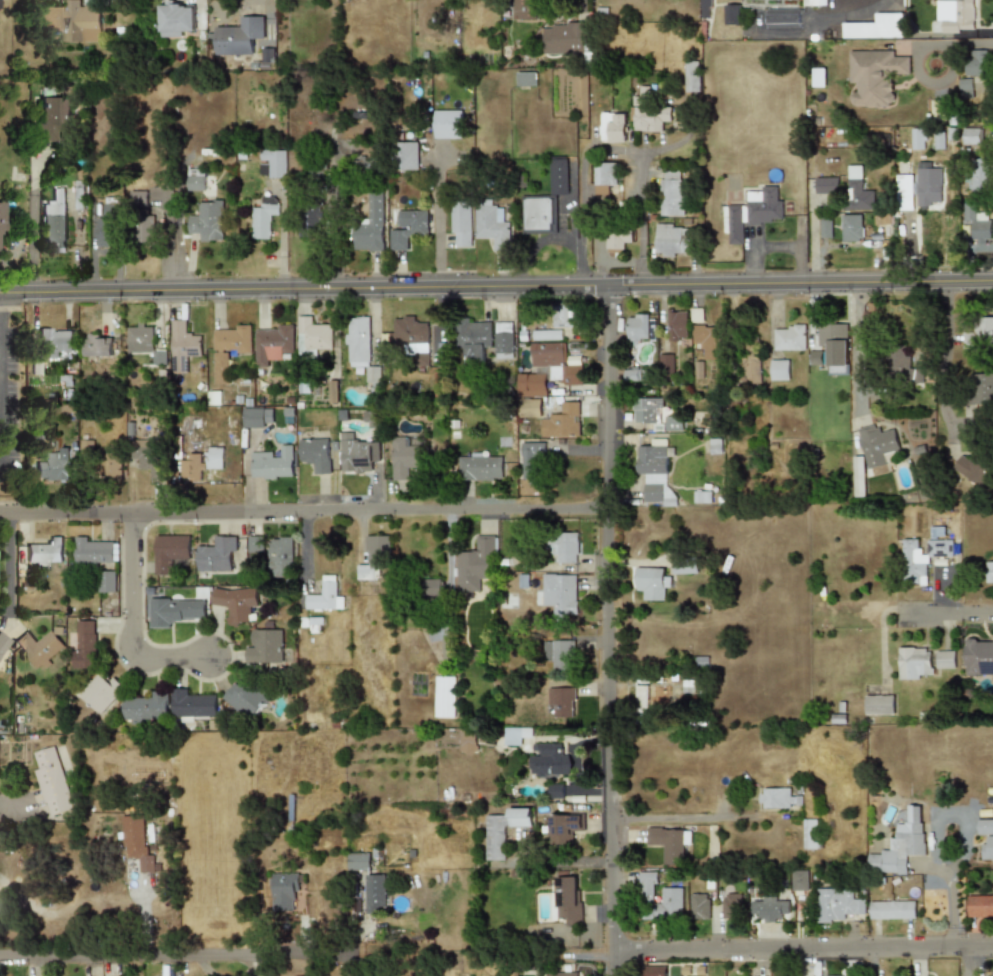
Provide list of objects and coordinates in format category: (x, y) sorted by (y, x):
road: (266, 1)
road: (581, 2)
building: (814, 3)
road: (864, 5)
building: (525, 9)
building: (705, 9)
building: (732, 14)
building: (956, 15)
building: (781, 19)
building: (175, 20)
building: (70, 23)
building: (872, 27)
building: (238, 36)
building: (565, 37)
road: (950, 43)
building: (977, 62)
building: (691, 75)
building: (873, 76)
building: (817, 77)
building: (526, 79)
building: (964, 88)
building: (938, 110)
building: (647, 113)
building: (50, 115)
building: (448, 124)
building: (613, 127)
building: (971, 136)
building: (918, 139)
building: (408, 155)
building: (274, 165)
building: (366, 165)
building: (980, 173)
building: (558, 176)
building: (603, 176)
building: (196, 179)
building: (826, 185)
building: (857, 190)
building: (917, 190)
road: (581, 194)
building: (670, 194)
building: (78, 195)
road: (640, 196)
building: (138, 199)
building: (754, 211)
building: (538, 215)
building: (264, 216)
road: (438, 219)
building: (208, 220)
building: (317, 220)
building: (977, 222)
building: (462, 223)
road: (336, 224)
building: (371, 224)
building: (491, 224)
road: (34, 225)
building: (0, 226)
building: (106, 226)
building: (141, 227)
building: (851, 227)
building: (53, 228)
building: (407, 228)
building: (616, 237)
road: (283, 238)
building: (672, 240)
road: (496, 288)
building: (563, 314)
building: (675, 325)
building: (638, 328)
building: (979, 332)
building: (546, 334)
building: (311, 336)
building: (473, 336)
building: (139, 338)
building: (411, 338)
building: (788, 338)
building: (504, 340)
building: (707, 340)
building: (53, 342)
building: (273, 343)
building: (183, 345)
building: (829, 345)
building: (97, 346)
building: (359, 346)
road: (856, 347)
building: (228, 350)
building: (157, 358)
building: (554, 363)
building: (664, 363)
building: (901, 366)
road: (942, 366)
building: (749, 367)
building: (778, 370)
building: (836, 371)
building: (531, 385)
building: (982, 389)
building: (529, 408)
building: (646, 410)
building: (257, 418)
building: (561, 422)
building: (672, 423)
building: (877, 444)
building: (713, 446)
building: (314, 454)
building: (355, 454)
building: (145, 456)
building: (404, 457)
building: (532, 459)
building: (201, 463)
building: (273, 465)
building: (51, 466)
building: (114, 466)
building: (479, 468)
building: (972, 469)
building: (653, 472)
building: (858, 476)
road: (304, 520)
building: (255, 544)
building: (566, 546)
building: (95, 552)
building: (45, 553)
building: (170, 553)
building: (218, 555)
building: (281, 557)
building: (375, 558)
building: (920, 558)
building: (476, 565)
building: (686, 567)
road: (9, 568)
building: (989, 572)
building: (106, 581)
building: (652, 583)
building: (434, 586)
building: (562, 593)
building: (326, 596)
building: (236, 603)
building: (174, 610)
road: (609, 617)
road: (947, 618)
building: (316, 625)
road: (132, 633)
building: (3, 642)
building: (85, 644)
building: (40, 647)
building: (265, 647)
building: (978, 655)
building: (559, 656)
building: (945, 659)
building: (914, 663)
building: (100, 691)
building: (247, 697)
building: (445, 697)
building: (659, 697)
building: (642, 698)
building: (561, 702)
building: (879, 704)
building: (192, 705)
building: (147, 706)
building: (515, 735)
building: (467, 740)
building: (553, 760)
building: (51, 781)
building: (554, 790)
building: (779, 798)
road: (13, 811)
road: (673, 817)
building: (563, 828)
building: (503, 831)
building: (812, 834)
building: (986, 838)
building: (669, 841)
building: (138, 842)
building: (901, 845)
road: (955, 854)
building: (361, 861)
building: (134, 878)
building: (800, 880)
building: (288, 890)
building: (376, 893)
building: (659, 898)
building: (566, 899)
building: (838, 904)
building: (699, 905)
building: (731, 905)
building: (979, 906)
building: (772, 908)
building: (892, 910)
road: (802, 944)
road: (176, 953)
road: (612, 961)
building: (655, 970)
building: (991, 973)
building: (561, 974)

